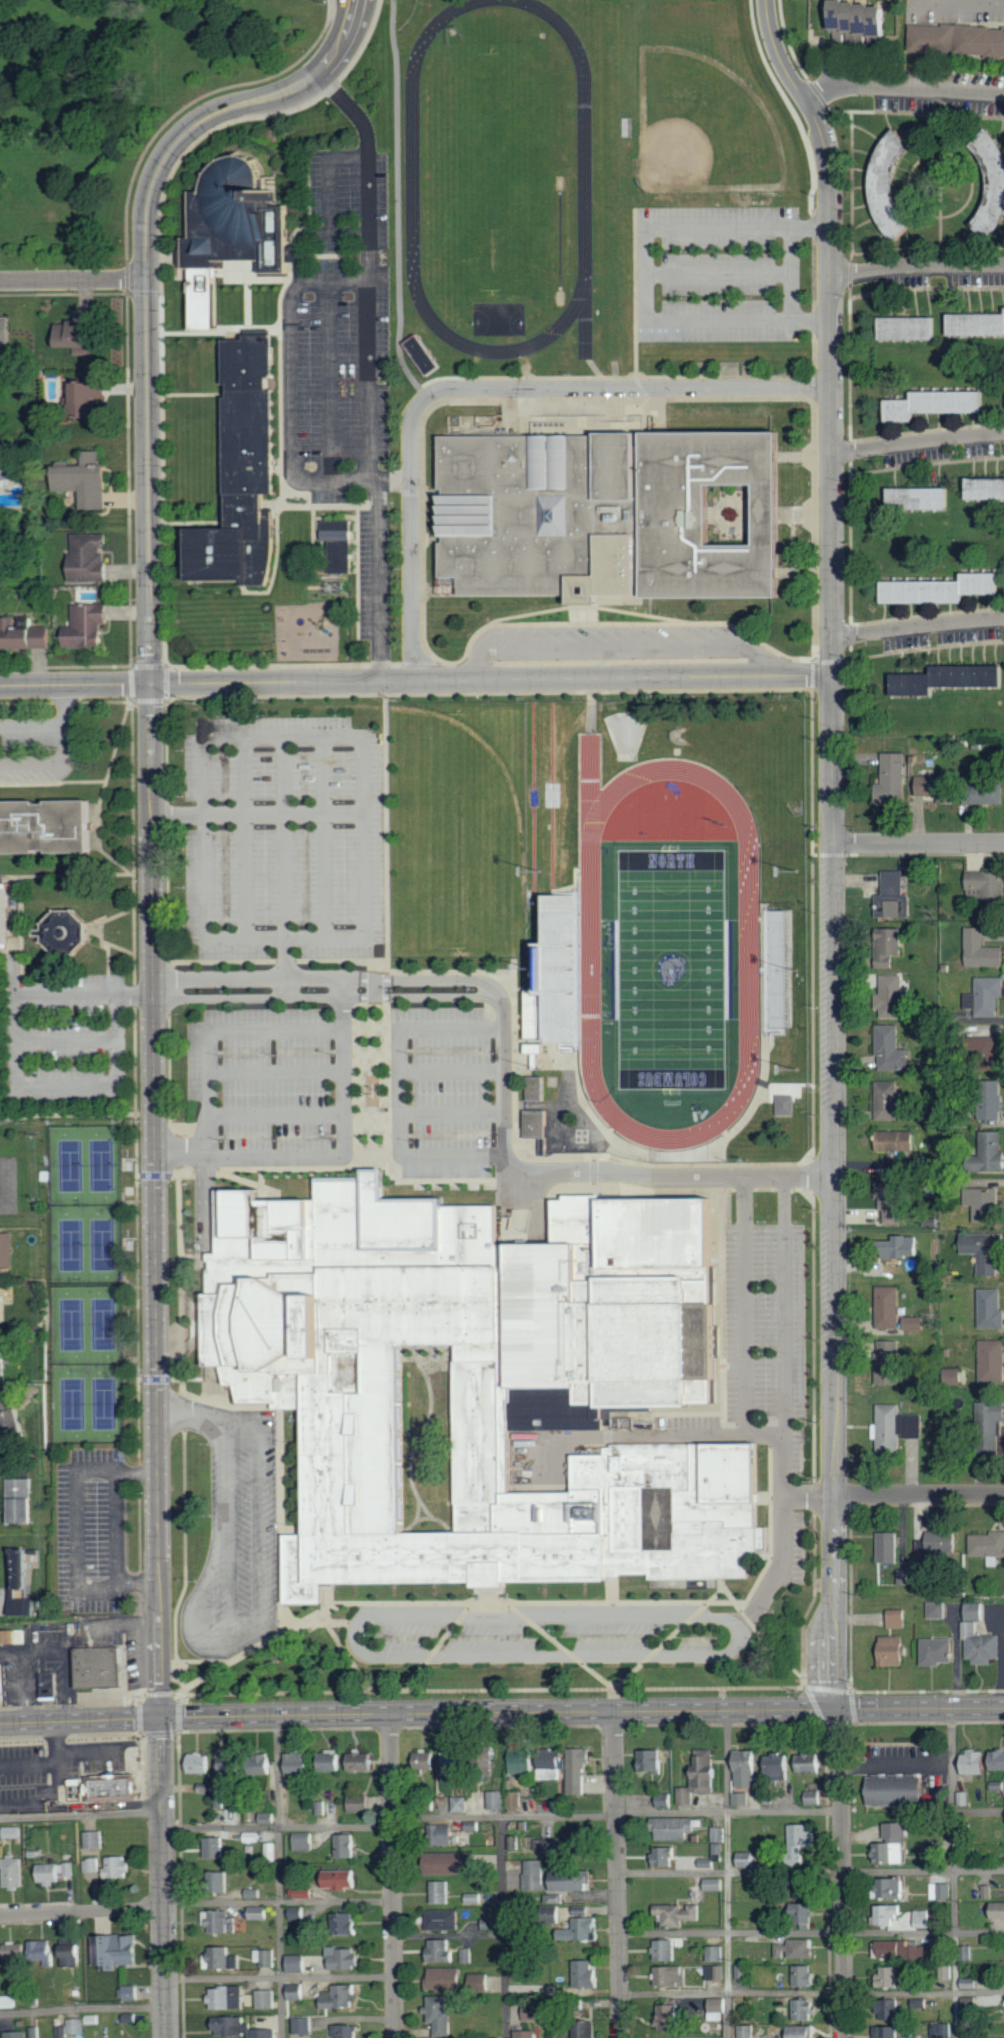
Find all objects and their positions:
road: (978, 0)
road: (997, 1)
building: (859, 17)
building: (958, 38)
road: (902, 89)
road: (925, 115)
park: (701, 127)
road: (948, 154)
park: (496, 161)
road: (173, 168)
track: (412, 168)
road: (330, 175)
building: (892, 186)
road: (941, 186)
building: (992, 186)
road: (811, 194)
road: (398, 204)
building: (233, 221)
road: (717, 226)
road: (303, 235)
road: (927, 247)
road: (917, 267)
road: (645, 272)
road: (790, 272)
road: (717, 273)
parking lot: (724, 274)
road: (71, 280)
road: (333, 281)
road: (143, 286)
road: (926, 289)
park: (498, 318)
road: (717, 318)
building: (977, 324)
building: (909, 328)
building: (6, 329)
building: (83, 331)
road: (831, 331)
road: (850, 331)
building: (421, 353)
parking lot: (344, 363)
road: (368, 371)
road: (329, 380)
road: (292, 383)
road: (484, 389)
building: (83, 396)
building: (934, 404)
road: (433, 405)
road: (926, 430)
road: (917, 444)
road: (926, 464)
building: (241, 473)
building: (87, 480)
road: (350, 480)
building: (985, 490)
building: (919, 499)
building: (610, 515)
building: (91, 557)
building: (942, 588)
road: (927, 614)
road: (620, 623)
building: (89, 626)
road: (918, 628)
building: (24, 635)
road: (617, 646)
road: (927, 648)
road: (221, 665)
building: (949, 680)
road: (490, 681)
road: (74, 686)
road: (64, 706)
road: (32, 725)
road: (286, 727)
road: (833, 761)
road: (48, 764)
building: (893, 780)
building: (935, 788)
building: (984, 794)
road: (178, 814)
building: (43, 824)
park: (456, 827)
road: (206, 830)
road: (327, 830)
road: (368, 830)
road: (248, 831)
road: (919, 845)
road: (286, 851)
road: (132, 852)
road: (908, 855)
building: (988, 889)
building: (893, 896)
building: (4, 914)
building: (63, 932)
road: (287, 934)
building: (889, 945)
building: (981, 950)
track: (746, 953)
parking lot: (307, 956)
park: (671, 968)
building: (778, 970)
road: (322, 975)
building: (895, 996)
building: (989, 996)
road: (326, 997)
road: (170, 1006)
building: (535, 1021)
road: (218, 1027)
road: (66, 1036)
road: (514, 1042)
building: (891, 1049)
road: (14, 1066)
road: (454, 1067)
road: (277, 1068)
building: (534, 1087)
road: (7, 1091)
road: (402, 1092)
building: (985, 1100)
building: (890, 1101)
building: (784, 1104)
road: (278, 1111)
road: (454, 1111)
building: (535, 1123)
building: (894, 1141)
building: (983, 1154)
road: (323, 1156)
road: (324, 1169)
road: (579, 1172)
road: (261, 1177)
road: (250, 1182)
road: (312, 1184)
road: (658, 1189)
road: (153, 1202)
building: (978, 1202)
building: (883, 1216)
building: (895, 1247)
building: (7, 1249)
building: (978, 1252)
park: (85, 1283)
building: (3, 1302)
road: (746, 1302)
road: (786, 1302)
building: (883, 1308)
building: (986, 1309)
building: (908, 1324)
parking lot: (768, 1335)
building: (4, 1355)
building: (988, 1362)
building: (884, 1363)
building: (948, 1377)
building: (482, 1379)
road: (225, 1406)
road: (192, 1412)
building: (12, 1413)
building: (984, 1427)
building: (892, 1428)
road: (683, 1431)
road: (834, 1442)
road: (137, 1471)
road: (919, 1496)
building: (22, 1499)
road: (815, 1504)
road: (280, 1522)
road: (119, 1528)
road: (78, 1530)
road: (782, 1532)
building: (932, 1544)
building: (985, 1547)
building: (883, 1548)
building: (22, 1568)
building: (900, 1577)
road: (139, 1583)
road: (611, 1591)
road: (464, 1603)
building: (26, 1606)
building: (932, 1611)
building: (971, 1612)
building: (891, 1620)
road: (255, 1623)
parking lot: (578, 1623)
road: (758, 1633)
building: (13, 1636)
road: (668, 1638)
road: (560, 1645)
road: (357, 1646)
road: (437, 1646)
building: (977, 1646)
road: (345, 1652)
building: (884, 1652)
building: (931, 1652)
road: (205, 1661)
building: (98, 1665)
building: (2, 1681)
building: (50, 1684)
traffic signals: (832, 1710)
road: (582, 1712)
traffic signals: (161, 1718)
road: (80, 1721)
road: (95, 1750)
building: (652, 1759)
building: (331, 1760)
building: (363, 1760)
building: (523, 1760)
building: (425, 1761)
building: (812, 1761)
building: (993, 1761)
road: (27, 1762)
building: (455, 1762)
building: (200, 1763)
building: (299, 1763)
building: (966, 1763)
building: (230, 1765)
building: (553, 1765)
building: (778, 1765)
building: (270, 1767)
building: (747, 1768)
building: (579, 1769)
building: (706, 1773)
road: (54, 1783)
building: (113, 1785)
building: (208, 1788)
building: (899, 1789)
building: (686, 1796)
building: (813, 1797)
building: (741, 1799)
building: (497, 1800)
building: (664, 1800)
building: (359, 1803)
building: (460, 1803)
road: (978, 1810)
road: (81, 1813)
road: (617, 1814)
building: (269, 1817)
road: (277, 1824)
building: (678, 1828)
building: (13, 1832)
building: (446, 1834)
building: (718, 1834)
building: (95, 1839)
building: (801, 1840)
building: (304, 1841)
building: (347, 1845)
building: (893, 1845)
building: (545, 1846)
building: (216, 1847)
building: (271, 1850)
building: (664, 1856)
building: (455, 1862)
building: (90, 1865)
building: (117, 1867)
road: (810, 1869)
building: (14, 1872)
building: (54, 1872)
road: (953, 1873)
road: (618, 1874)
road: (727, 1874)
building: (534, 1875)
road: (278, 1876)
road: (392, 1876)
road: (164, 1877)
road: (180, 1877)
building: (343, 1878)
building: (568, 1880)
building: (221, 1881)
building: (716, 1884)
building: (893, 1888)
building: (761, 1889)
building: (942, 1891)
building: (440, 1892)
building: (303, 1893)
building: (473, 1898)
road: (278, 1901)
road: (82, 1912)
building: (259, 1912)
building: (298, 1912)
building: (993, 1912)
building: (804, 1913)
building: (678, 1914)
building: (901, 1917)
building: (444, 1919)
building: (222, 1921)
building: (347, 1924)
building: (492, 1924)
building: (587, 1924)
road: (503, 1927)
road: (811, 1931)
building: (797, 1949)
building: (118, 1950)
building: (440, 1950)
building: (665, 1950)
building: (42, 1951)
building: (908, 1951)
building: (16, 1952)
building: (715, 1953)
building: (72, 1955)
building: (468, 1955)
building: (266, 1957)
building: (222, 1958)
building: (345, 1958)
building: (297, 1963)
building: (715, 1972)
building: (741, 1972)
building: (586, 1973)
road: (279, 1976)
building: (672, 1976)
building: (804, 1976)
building: (889, 1976)
building: (444, 1979)
building: (487, 1979)
building: (297, 1991)
road: (811, 1992)
building: (131, 1993)
building: (342, 1996)
building: (228, 1998)
building: (268, 1999)
building: (9, 2001)
building: (720, 2004)
road: (83, 2007)
building: (806, 2009)
building: (889, 2009)
building: (538, 2011)
building: (440, 2015)
building: (669, 2017)
building: (304, 2025)
building: (77, 2026)
building: (233, 2026)
building: (585, 2029)
building: (942, 2030)
building: (347, 2031)
building: (747, 2031)
building: (804, 2032)
building: (888, 2032)
building: (267, 2033)
building: (18, 2034)
building: (527, 2034)

